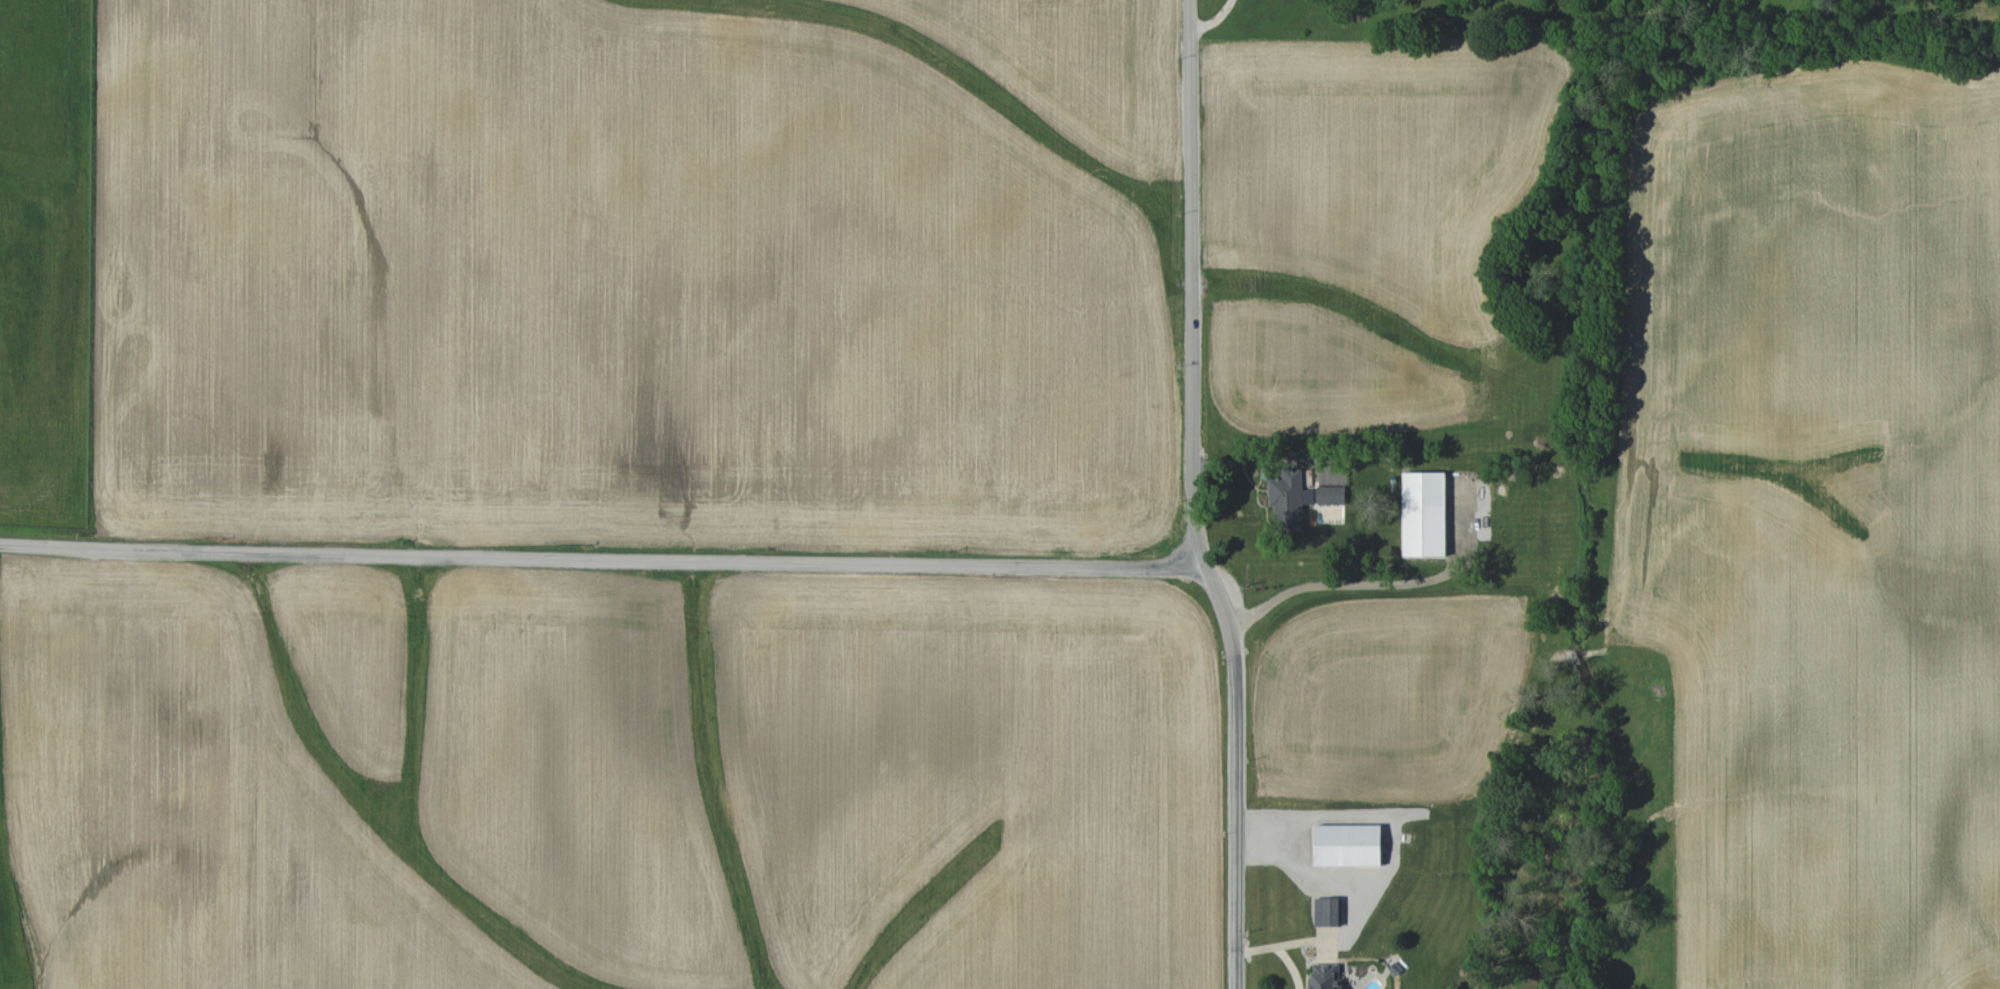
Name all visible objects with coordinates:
road: (1214, 20)
airport: (45, 261)
road: (1268, 461)
building: (1330, 495)
road: (1195, 497)
building: (1289, 500)
building: (1424, 514)
road: (603, 561)
road: (1336, 589)
building: (1348, 845)
road: (1351, 903)
building: (1328, 912)
road: (1290, 965)
building: (1326, 976)

